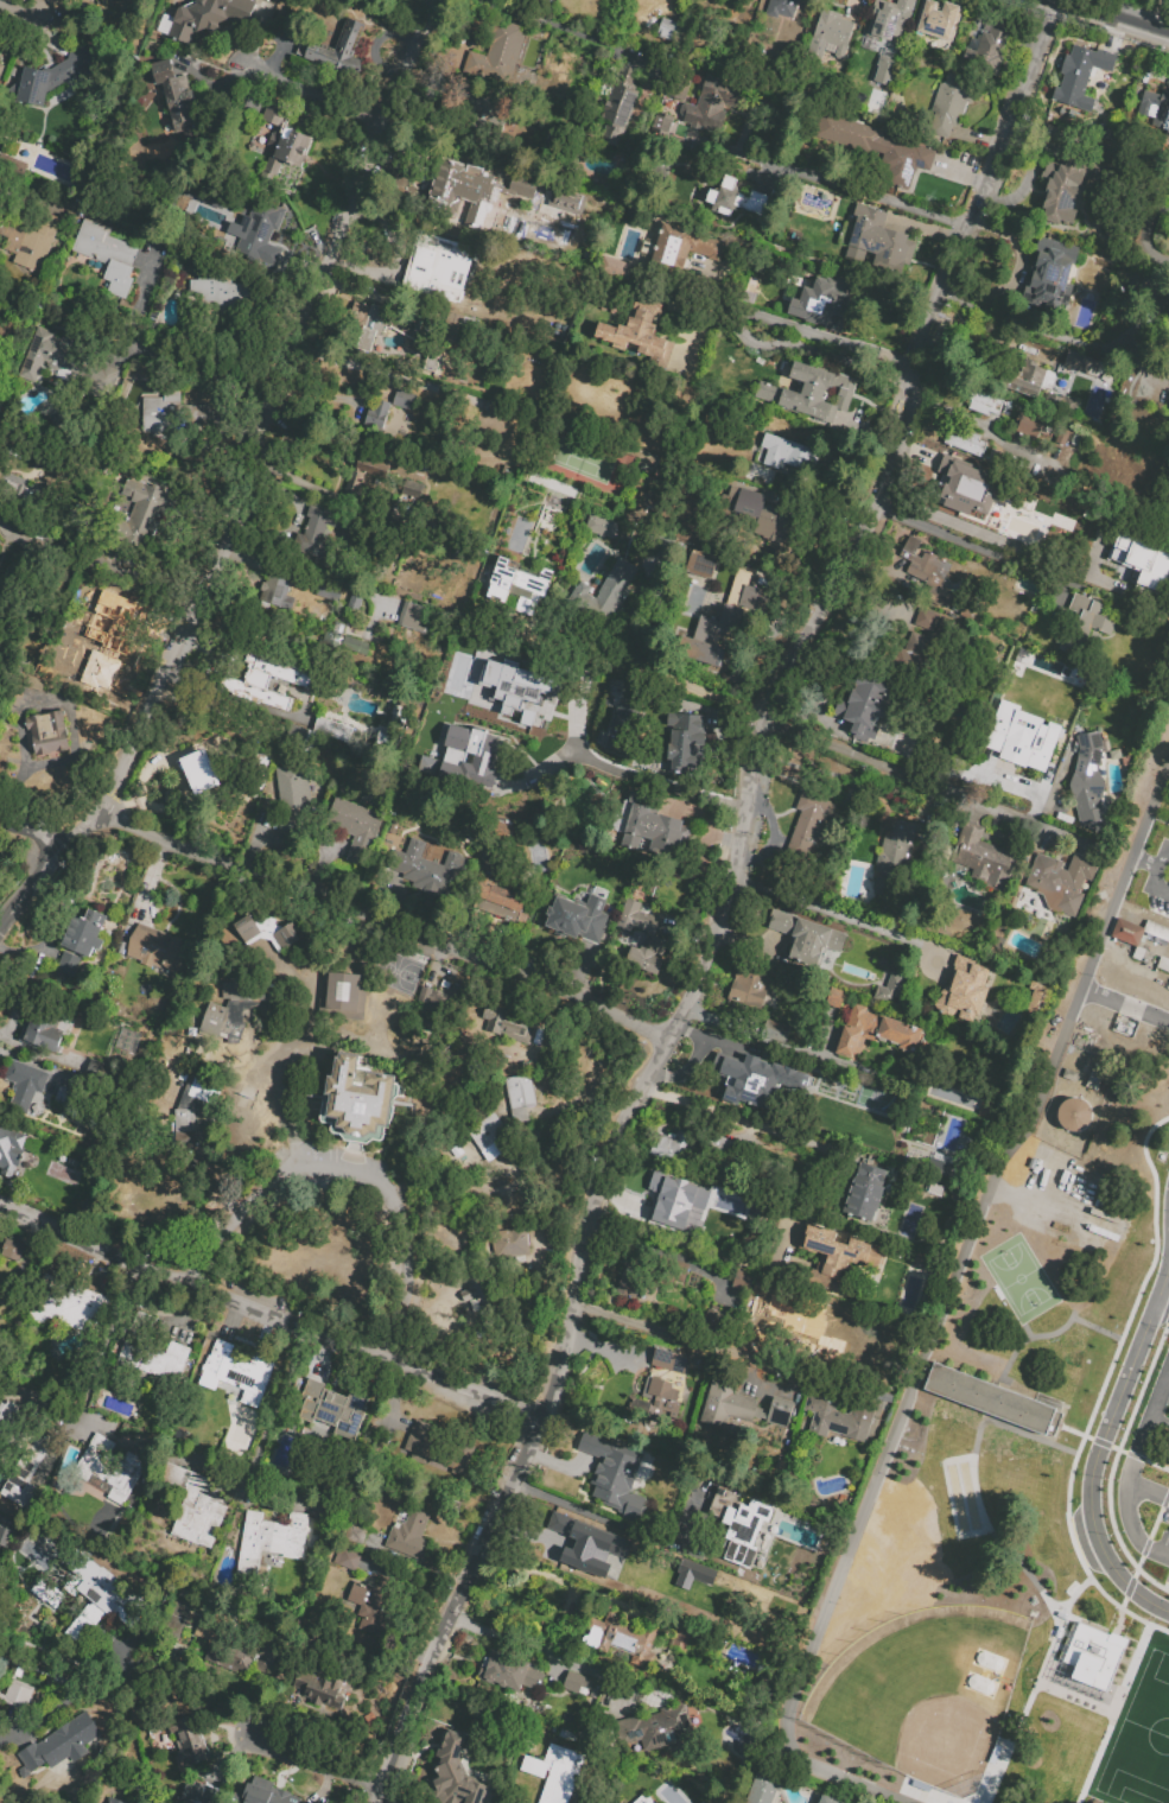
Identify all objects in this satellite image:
building: (109, 0)
building: (781, 7)
road: (17, 9)
building: (203, 17)
road: (1114, 17)
building: (888, 19)
building: (936, 20)
building: (666, 28)
building: (827, 34)
building: (990, 46)
building: (336, 50)
building: (495, 55)
building: (0, 66)
building: (885, 69)
building: (55, 75)
building: (1079, 75)
road: (313, 83)
building: (176, 96)
building: (711, 103)
building: (946, 103)
building: (618, 107)
building: (479, 109)
building: (1154, 109)
building: (275, 112)
building: (657, 128)
building: (873, 146)
building: (287, 152)
road: (1135, 159)
building: (1067, 185)
road: (860, 193)
building: (464, 198)
building: (732, 198)
building: (815, 202)
building: (261, 231)
building: (32, 240)
building: (875, 240)
building: (681, 247)
building: (106, 253)
building: (432, 265)
building: (614, 267)
building: (1050, 275)
building: (216, 292)
building: (822, 301)
building: (386, 324)
building: (450, 324)
road: (990, 334)
building: (636, 336)
road: (1060, 336)
road: (796, 347)
road: (161, 353)
building: (47, 354)
building: (432, 358)
building: (1080, 363)
building: (1030, 379)
building: (101, 383)
building: (809, 392)
building: (405, 400)
road: (328, 402)
building: (985, 402)
building: (173, 411)
building: (375, 415)
building: (1025, 424)
building: (966, 442)
building: (784, 452)
building: (363, 472)
road: (235, 482)
building: (413, 488)
building: (966, 488)
building: (142, 512)
building: (760, 514)
building: (1030, 520)
building: (601, 525)
building: (322, 529)
building: (521, 538)
road: (968, 544)
building: (1139, 560)
building: (701, 563)
building: (922, 565)
building: (502, 579)
building: (277, 591)
building: (329, 591)
building: (605, 591)
building: (355, 601)
building: (415, 618)
building: (724, 618)
building: (1082, 622)
building: (104, 640)
building: (344, 641)
building: (917, 650)
road: (635, 668)
building: (267, 681)
road: (233, 698)
building: (864, 709)
building: (529, 720)
building: (620, 724)
building: (332, 729)
building: (47, 732)
building: (1022, 736)
building: (685, 739)
building: (456, 741)
building: (425, 764)
building: (198, 769)
building: (1087, 780)
road: (657, 783)
road: (927, 785)
building: (292, 795)
building: (808, 823)
building: (355, 827)
building: (654, 832)
road: (31, 833)
building: (1161, 849)
building: (895, 856)
building: (980, 857)
road: (1145, 862)
building: (426, 868)
road: (1156, 874)
building: (1060, 881)
building: (498, 897)
road: (726, 904)
road: (1144, 908)
road: (836, 916)
building: (576, 918)
building: (266, 931)
road: (383, 931)
building: (1157, 932)
building: (84, 933)
building: (1129, 934)
building: (805, 937)
building: (640, 938)
building: (157, 948)
building: (1143, 957)
building: (65, 965)
building: (1163, 966)
building: (750, 979)
building: (890, 989)
building: (964, 990)
building: (343, 993)
road: (1125, 1004)
building: (237, 1007)
building: (434, 1009)
building: (504, 1023)
road: (724, 1023)
building: (775, 1030)
building: (872, 1030)
building: (40, 1033)
road: (808, 1050)
building: (1072, 1077)
building: (752, 1079)
building: (1095, 1081)
building: (23, 1084)
building: (205, 1090)
building: (520, 1096)
building: (358, 1099)
building: (845, 1117)
building: (1075, 1117)
road: (738, 1118)
building: (185, 1128)
building: (1049, 1130)
building: (489, 1135)
building: (672, 1147)
building: (9, 1150)
road: (351, 1173)
building: (864, 1192)
building: (674, 1201)
road: (659, 1234)
building: (507, 1242)
building: (9, 1249)
road: (659, 1250)
building: (836, 1255)
road: (964, 1257)
road: (761, 1258)
building: (669, 1276)
building: (741, 1280)
building: (474, 1291)
road: (1162, 1308)
building: (77, 1309)
building: (787, 1314)
road: (269, 1315)
road: (674, 1335)
road: (102, 1346)
building: (150, 1348)
building: (667, 1359)
road: (1168, 1370)
building: (239, 1373)
building: (655, 1401)
building: (726, 1402)
building: (993, 1403)
road: (269, 1411)
building: (330, 1411)
building: (779, 1411)
building: (836, 1415)
building: (7, 1418)
road: (1146, 1423)
road: (1157, 1428)
road: (1099, 1446)
building: (436, 1449)
building: (26, 1467)
building: (110, 1467)
building: (614, 1474)
building: (193, 1506)
road: (1124, 1506)
building: (739, 1516)
road: (614, 1523)
building: (408, 1531)
building: (4, 1536)
building: (271, 1539)
building: (599, 1544)
building: (343, 1557)
building: (699, 1573)
building: (106, 1595)
building: (376, 1604)
building: (618, 1636)
road: (545, 1650)
building: (237, 1656)
building: (1087, 1656)
building: (509, 1672)
building: (577, 1682)
building: (320, 1687)
building: (17, 1694)
road: (62, 1700)
building: (655, 1728)
building: (188, 1739)
building: (59, 1744)
road: (317, 1767)
building: (554, 1772)
building: (452, 1773)
road: (847, 1779)
building: (767, 1789)
building: (266, 1792)
building: (642, 1799)
building: (113, 1801)
building: (828, 1801)
building: (195, 1802)
road: (379, 1802)

